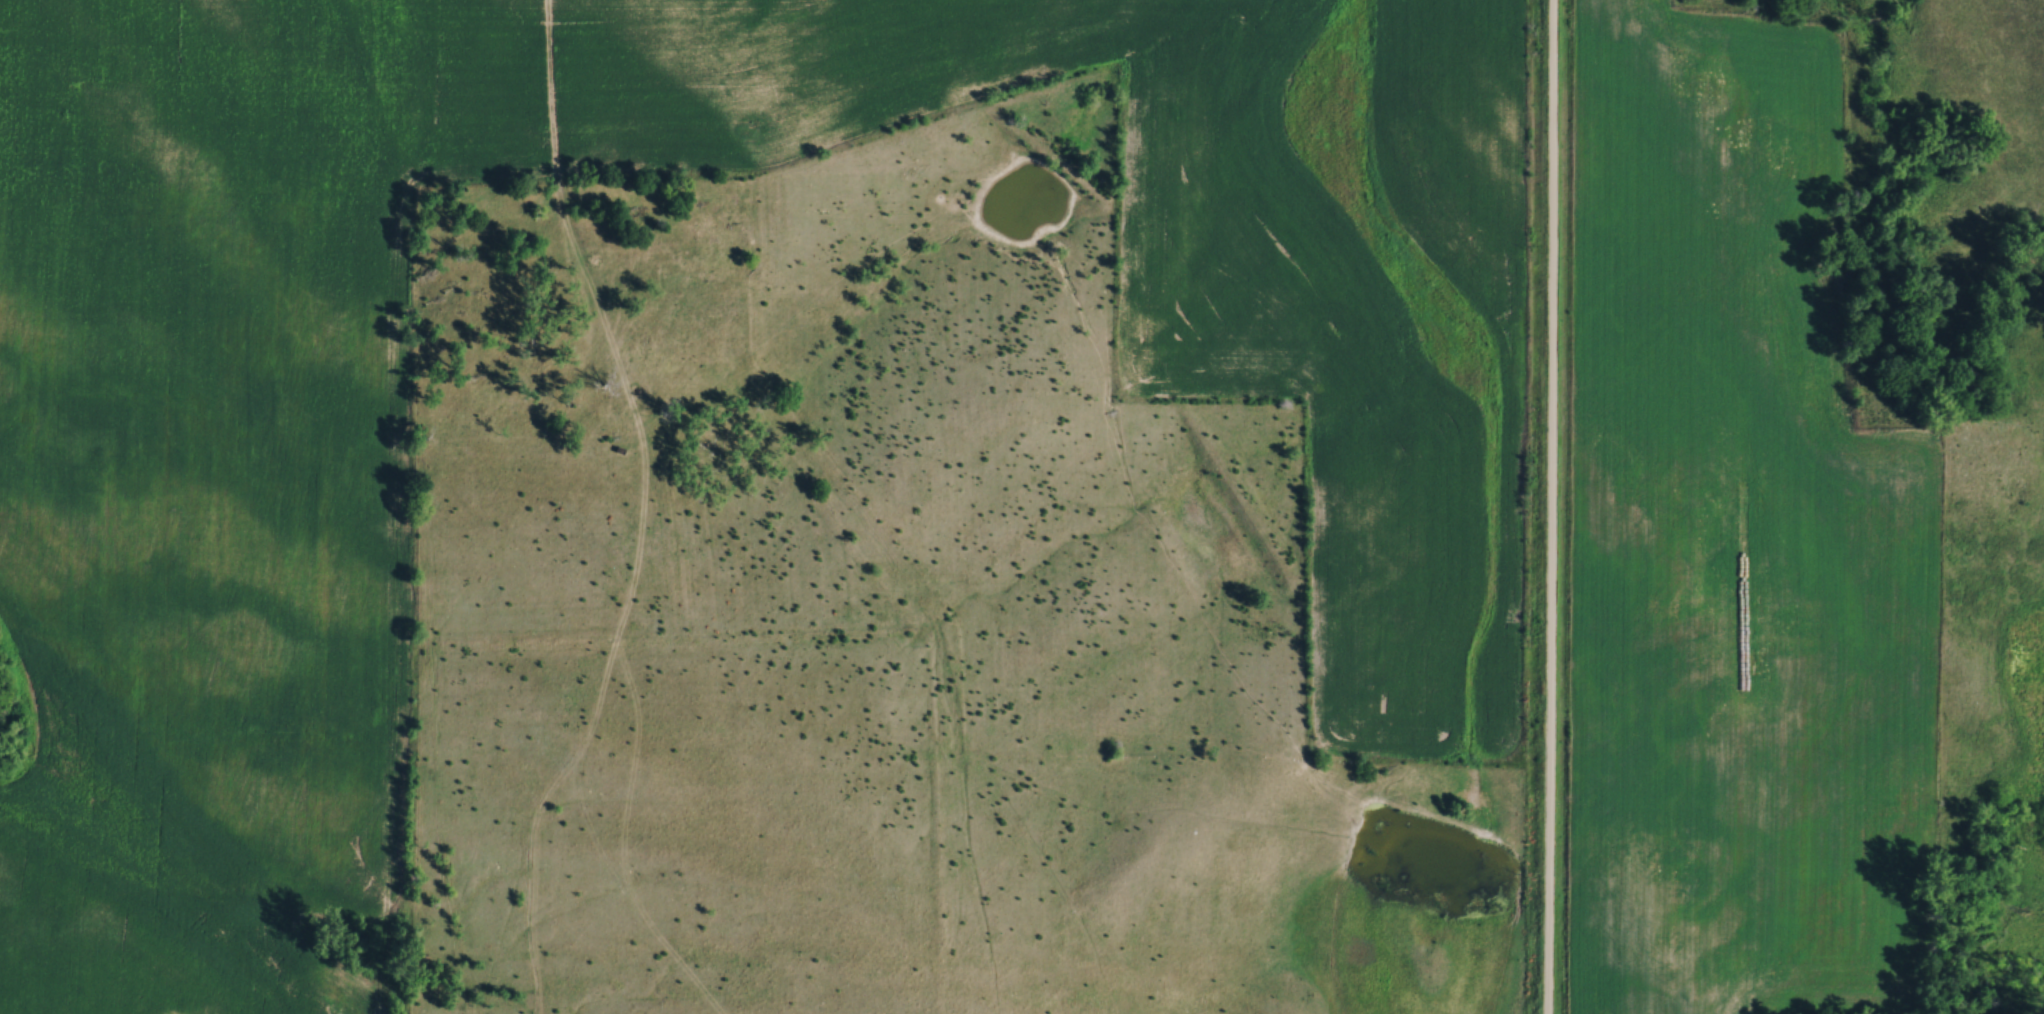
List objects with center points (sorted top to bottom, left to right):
road: (1551, 507)

